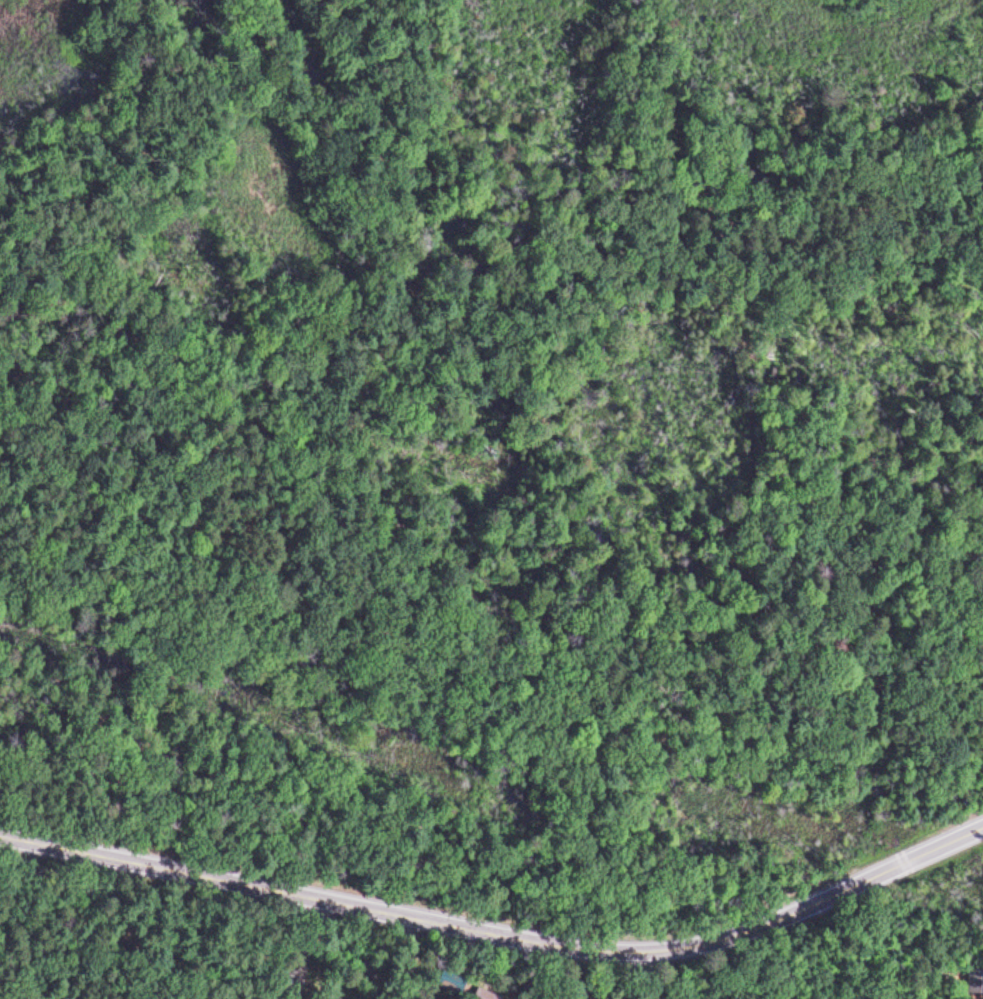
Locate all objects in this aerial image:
road: (499, 937)
road: (294, 947)
road: (383, 957)
road: (413, 957)
road: (601, 961)
road: (524, 971)
road: (658, 976)
building: (975, 983)
road: (612, 984)
building: (481, 995)

